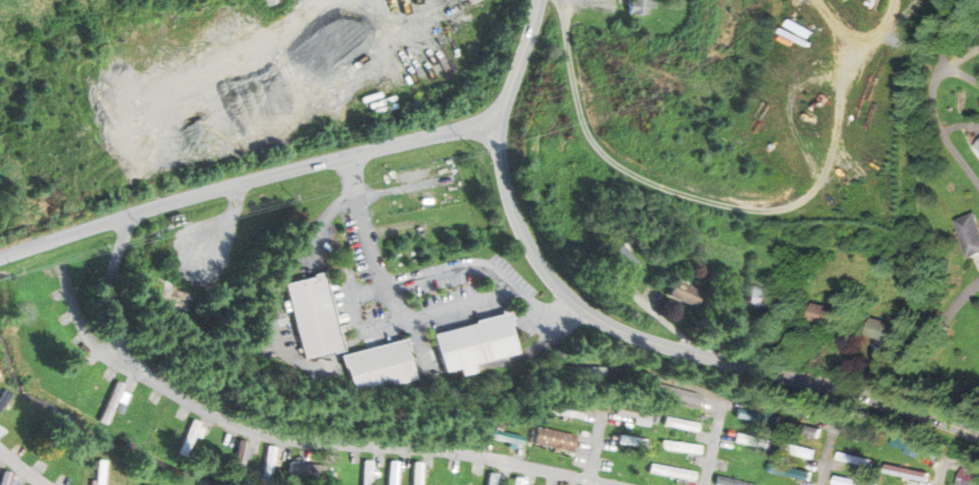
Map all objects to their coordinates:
building: (640, 6)
road: (907, 8)
road: (957, 25)
road: (891, 40)
road: (521, 62)
road: (959, 74)
power tower: (620, 75)
building: (136, 84)
quarry: (757, 108)
road: (937, 124)
building: (978, 146)
road: (249, 182)
road: (714, 203)
parking lot: (319, 233)
building: (968, 233)
building: (622, 260)
parking lot: (344, 273)
parking lot: (514, 274)
road: (424, 277)
parking lot: (443, 289)
road: (509, 293)
building: (684, 293)
building: (757, 295)
road: (461, 306)
building: (823, 314)
building: (311, 316)
parking lot: (463, 317)
parking lot: (342, 318)
road: (415, 318)
road: (659, 318)
building: (881, 329)
road: (367, 330)
road: (928, 338)
building: (472, 343)
road: (95, 344)
road: (678, 350)
building: (376, 367)
building: (581, 371)
road: (679, 383)
building: (83, 388)
building: (674, 393)
building: (4, 398)
building: (110, 402)
building: (104, 403)
building: (566, 411)
building: (632, 411)
building: (756, 416)
building: (681, 423)
building: (803, 428)
building: (189, 436)
building: (502, 436)
building: (555, 439)
road: (286, 440)
building: (634, 441)
road: (715, 441)
building: (752, 441)
building: (907, 445)
road: (597, 446)
building: (681, 447)
building: (797, 450)
building: (910, 453)
road: (826, 456)
building: (239, 457)
building: (854, 459)
building: (267, 463)
building: (262, 464)
road: (22, 468)
building: (306, 471)
building: (671, 472)
building: (789, 472)
building: (905, 472)
building: (99, 473)
building: (360, 473)
building: (366, 473)
building: (392, 473)
road: (939, 473)
building: (386, 474)
building: (412, 474)
building: (417, 474)
building: (969, 475)
building: (4, 478)
building: (486, 479)
building: (492, 479)
building: (516, 481)
building: (731, 481)
building: (849, 481)

